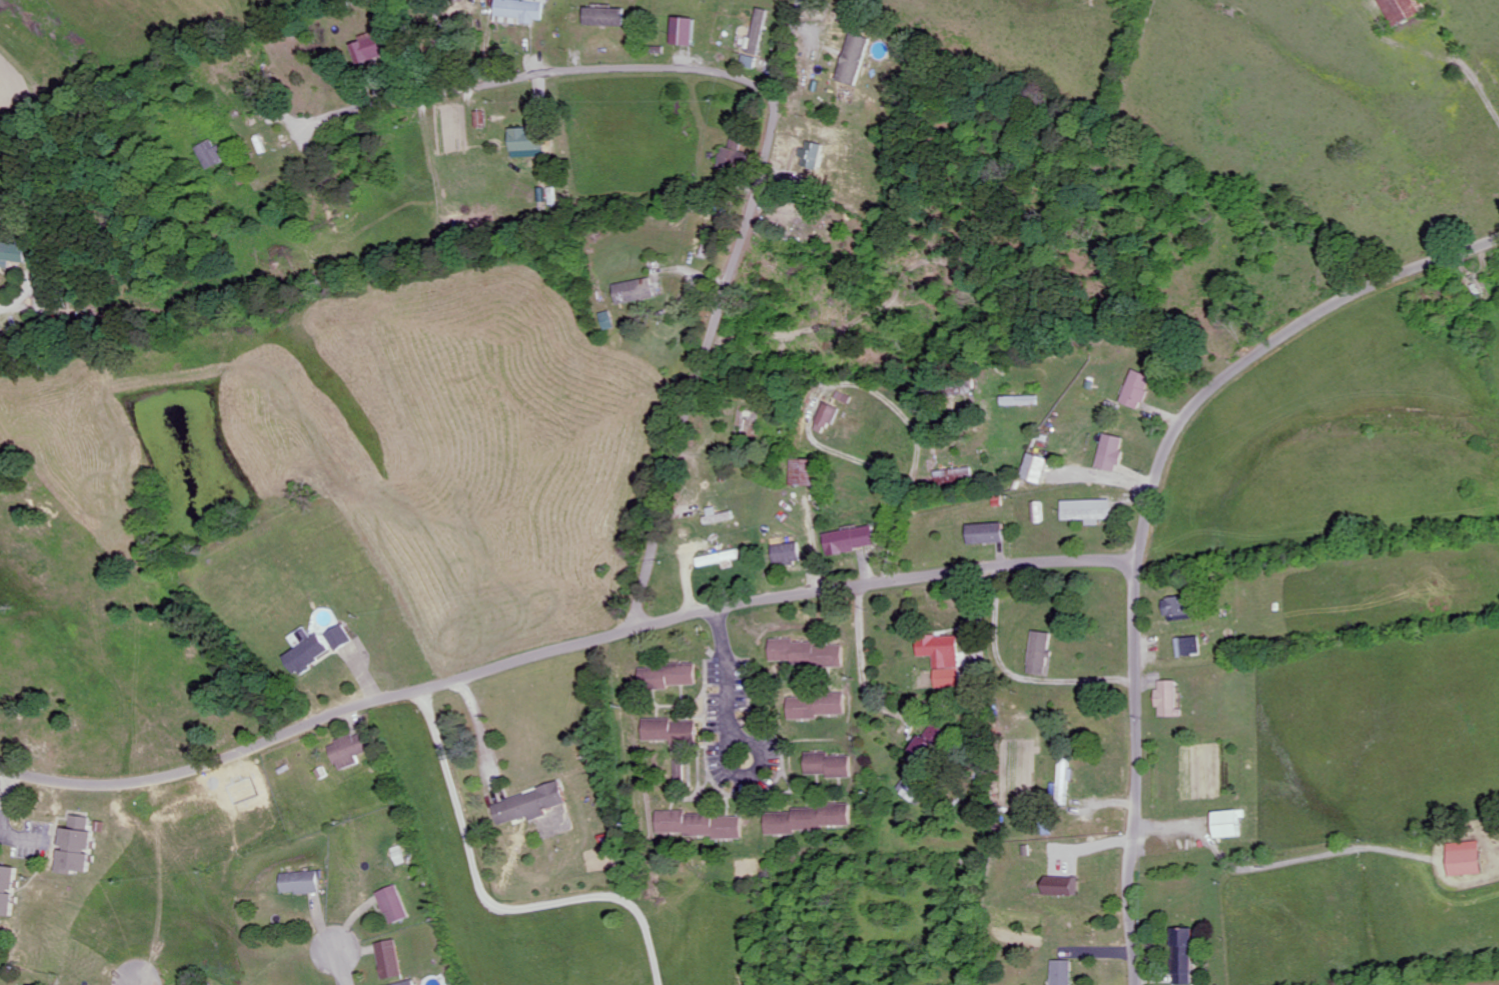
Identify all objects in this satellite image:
building: (523, 10)
building: (1402, 10)
building: (609, 17)
building: (688, 31)
building: (760, 32)
building: (368, 48)
building: (855, 59)
road: (534, 75)
building: (482, 120)
building: (527, 140)
building: (214, 154)
building: (813, 155)
building: (14, 253)
building: (638, 291)
road: (13, 303)
road: (720, 314)
building: (610, 320)
building: (1138, 390)
building: (1020, 401)
building: (827, 418)
building: (1112, 453)
building: (1037, 468)
building: (806, 472)
building: (1090, 511)
building: (1040, 512)
road: (1149, 516)
building: (721, 517)
building: (989, 533)
building: (853, 540)
building: (790, 554)
building: (721, 558)
building: (1179, 609)
building: (341, 638)
road: (563, 646)
building: (1190, 647)
building: (805, 653)
building: (1044, 653)
building: (308, 655)
building: (947, 659)
road: (913, 663)
building: (669, 676)
road: (722, 686)
building: (1170, 699)
building: (818, 707)
building: (670, 731)
building: (351, 751)
building: (929, 752)
building: (829, 765)
building: (1066, 784)
building: (914, 788)
building: (531, 805)
building: (809, 819)
building: (1230, 824)
building: (699, 825)
building: (80, 847)
building: (399, 855)
building: (1468, 859)
building: (302, 882)
building: (1067, 887)
building: (9, 891)
building: (395, 906)
building: (1187, 957)
road: (341, 960)
building: (391, 960)
building: (1066, 973)
road: (140, 975)
building: (410, 983)

